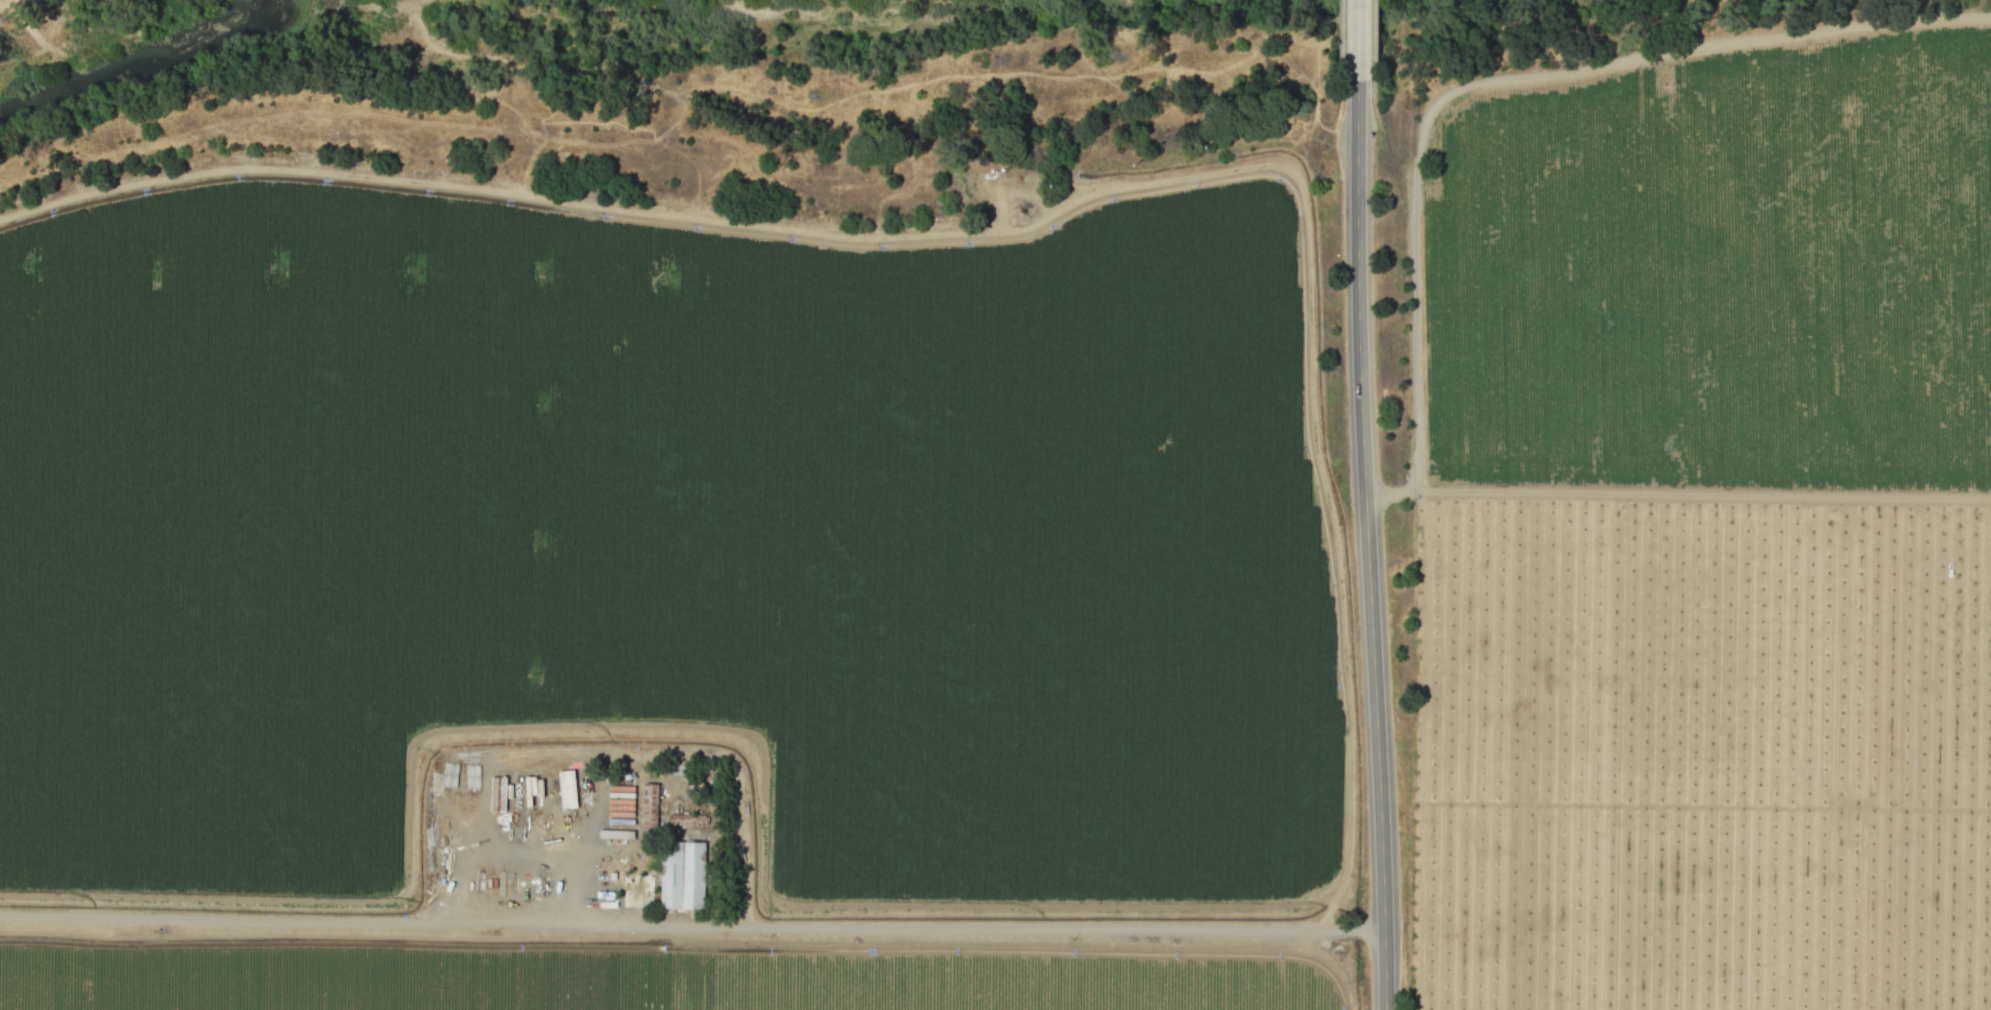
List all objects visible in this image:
road: (24, 25)
road: (1358, 40)
river: (120, 45)
road: (1515, 77)
road: (689, 219)
road: (1677, 495)
road: (1367, 545)
building: (566, 788)
building: (649, 804)
building: (686, 819)
road: (570, 874)
building: (682, 875)
road: (689, 922)

